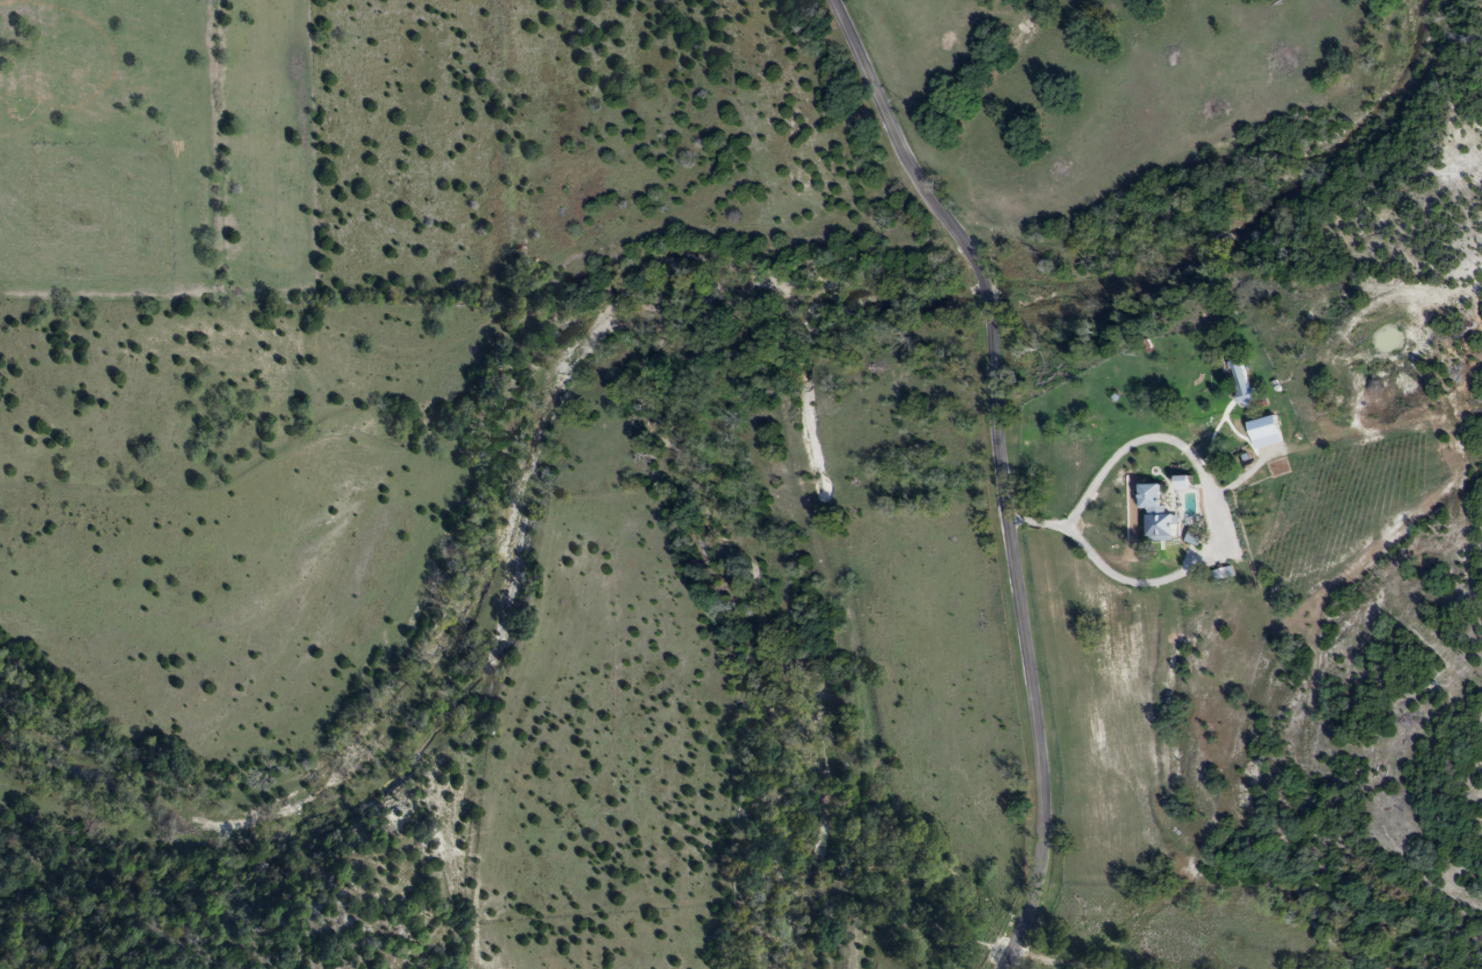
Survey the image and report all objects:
building: (1239, 380)
building: (1263, 429)
road: (1001, 468)
building: (1180, 483)
building: (1154, 515)
road: (1219, 533)

